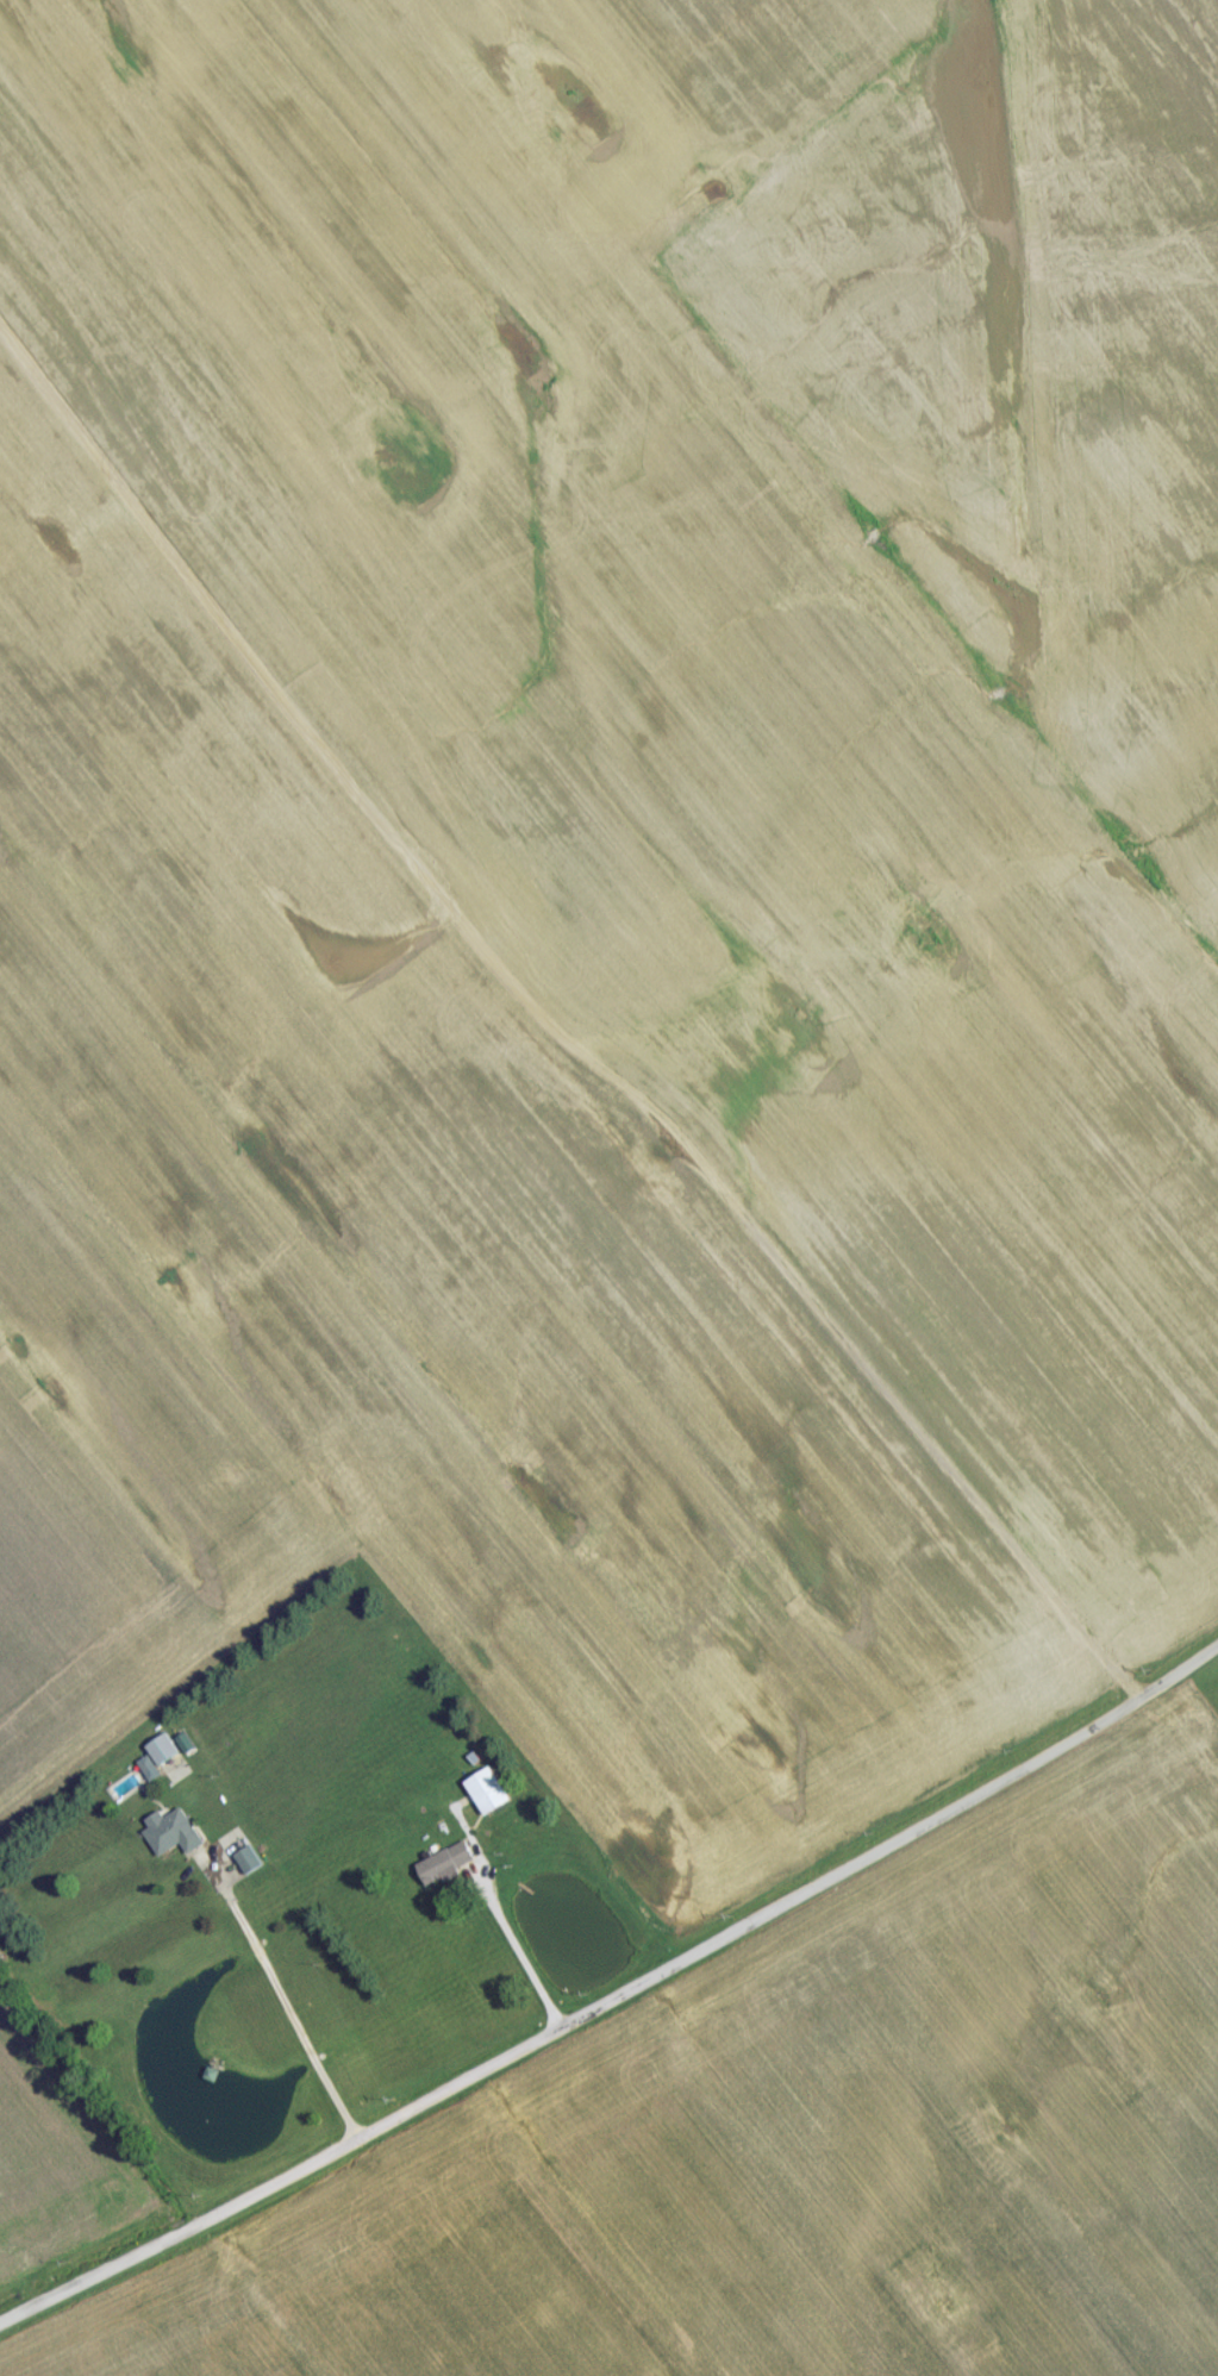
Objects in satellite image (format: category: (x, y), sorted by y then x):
road: (557, 1030)
building: (164, 1757)
building: (489, 1799)
building: (174, 1838)
building: (250, 1868)
building: (446, 1869)
road: (521, 1955)
road: (614, 2002)
road: (285, 2003)

